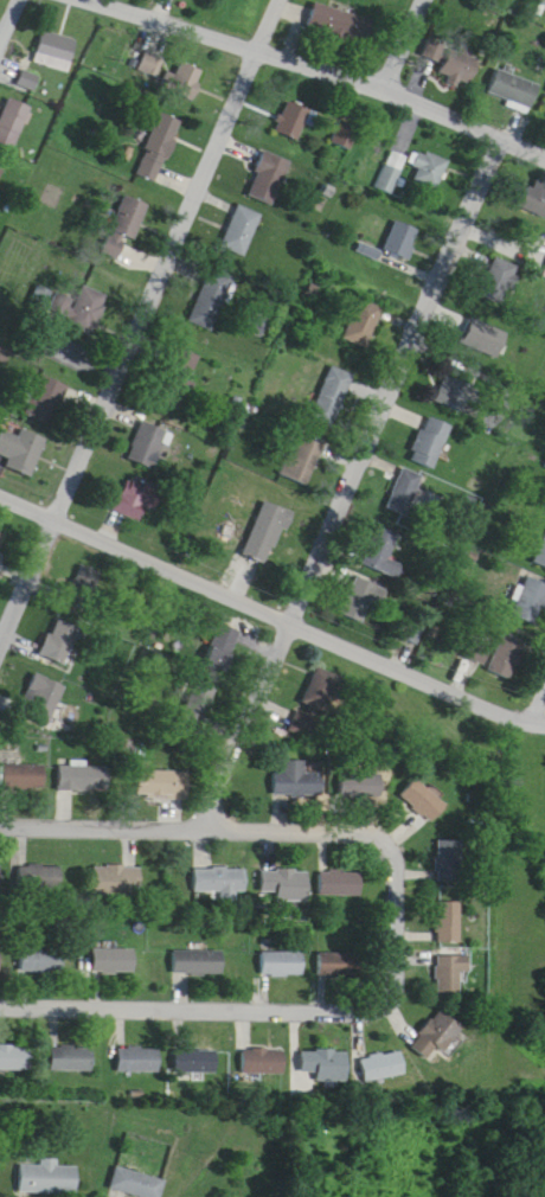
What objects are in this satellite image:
road: (6, 14)
building: (341, 25)
road: (399, 37)
building: (54, 51)
road: (344, 63)
building: (150, 64)
building: (460, 65)
building: (186, 79)
building: (28, 81)
building: (512, 90)
building: (294, 121)
building: (13, 122)
building: (346, 134)
building: (159, 147)
building: (429, 169)
building: (391, 172)
building: (0, 175)
building: (269, 178)
building: (534, 200)
building: (126, 226)
building: (242, 231)
building: (400, 241)
building: (500, 282)
building: (66, 300)
building: (212, 301)
road: (135, 322)
building: (364, 322)
building: (186, 366)
building: (453, 393)
building: (333, 396)
building: (49, 401)
building: (431, 442)
building: (150, 447)
building: (21, 448)
building: (303, 460)
road: (350, 468)
building: (406, 492)
building: (136, 499)
building: (1, 518)
building: (267, 533)
building: (1, 537)
building: (383, 550)
building: (541, 555)
building: (78, 569)
building: (86, 582)
building: (363, 600)
building: (531, 601)
road: (269, 604)
building: (57, 628)
building: (217, 629)
building: (224, 647)
building: (508, 657)
building: (315, 671)
building: (38, 684)
building: (195, 685)
building: (325, 685)
road: (538, 696)
building: (43, 700)
building: (300, 706)
building: (198, 708)
building: (20, 760)
building: (75, 761)
building: (293, 762)
building: (155, 766)
building: (355, 768)
building: (25, 777)
building: (84, 779)
building: (297, 781)
building: (416, 783)
building: (163, 785)
building: (360, 786)
building: (424, 801)
road: (102, 813)
building: (34, 858)
building: (451, 862)
building: (110, 863)
building: (213, 863)
building: (333, 866)
building: (278, 869)
building: (0, 878)
building: (40, 879)
building: (117, 882)
building: (220, 882)
building: (341, 884)
building: (284, 885)
building: (440, 903)
building: (450, 923)
building: (33, 942)
building: (105, 942)
building: (191, 943)
building: (333, 945)
building: (275, 947)
building: (444, 954)
building: (0, 960)
building: (41, 961)
building: (114, 962)
building: (197, 964)
building: (282, 964)
building: (339, 965)
building: (451, 975)
road: (368, 998)
building: (432, 1017)
building: (436, 1037)
building: (6, 1039)
building: (64, 1042)
building: (128, 1042)
building: (251, 1043)
building: (188, 1044)
building: (374, 1048)
building: (318, 1049)
building: (14, 1057)
building: (70, 1060)
building: (137, 1061)
building: (197, 1062)
building: (263, 1062)
building: (383, 1067)
building: (316, 1070)
building: (47, 1179)
building: (136, 1184)

